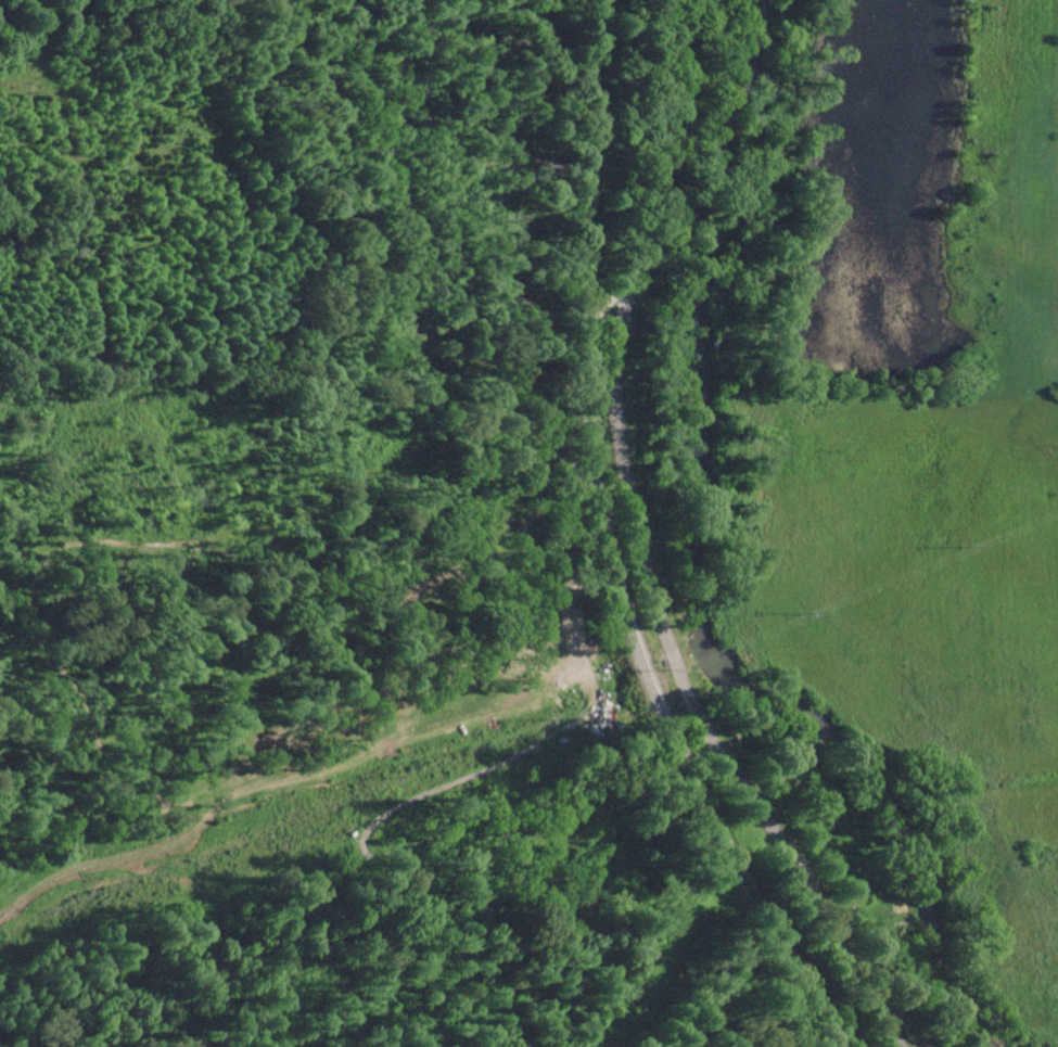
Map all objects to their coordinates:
railway: (599, 551)
road: (641, 551)

